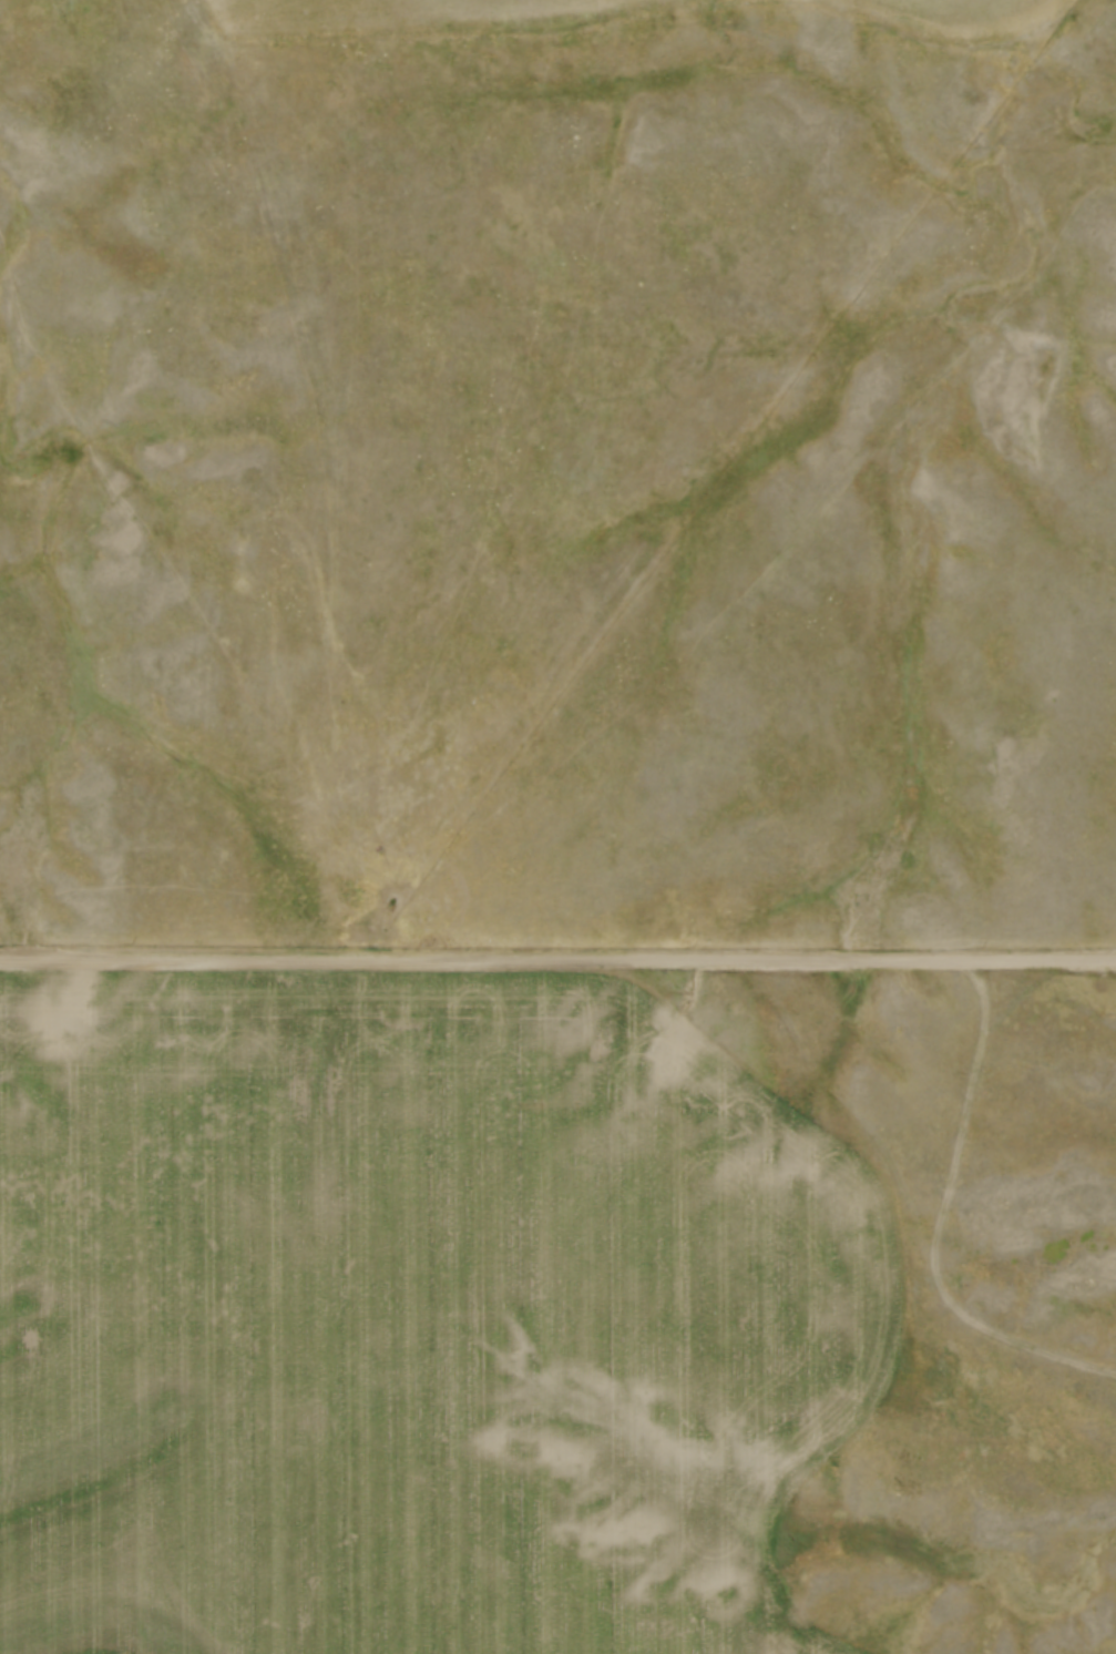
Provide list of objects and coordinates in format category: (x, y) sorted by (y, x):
crop: (574, 10)
road: (557, 958)
crop: (416, 1319)

